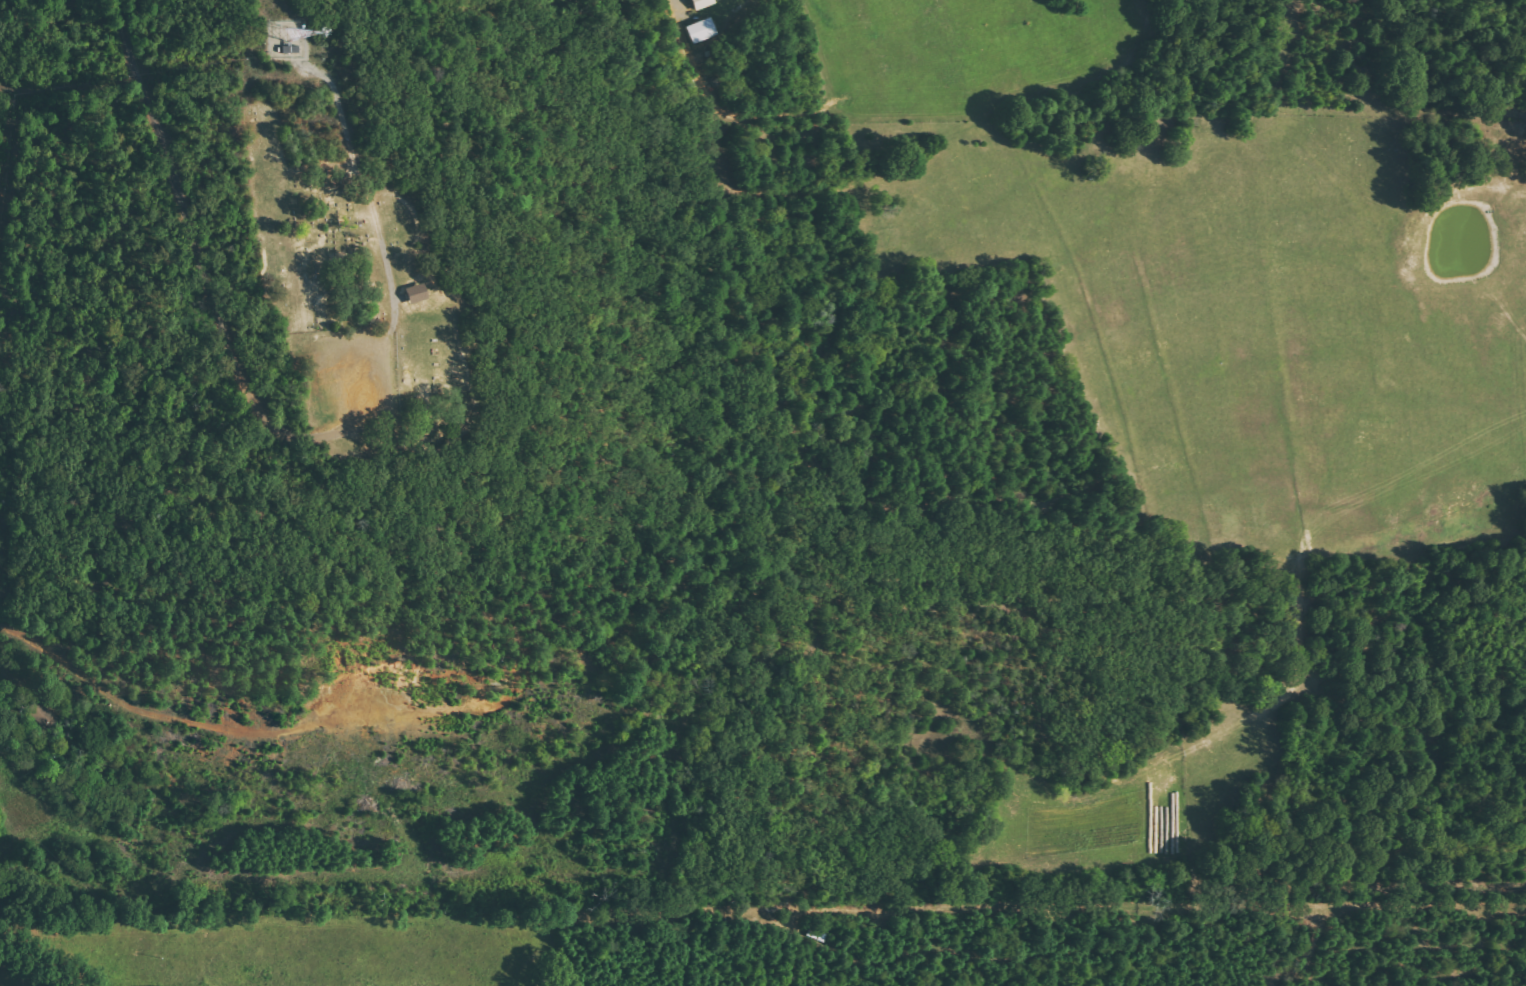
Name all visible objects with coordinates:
building: (700, 4)
building: (700, 31)
road: (184, 222)
park: (365, 263)
building: (412, 294)

